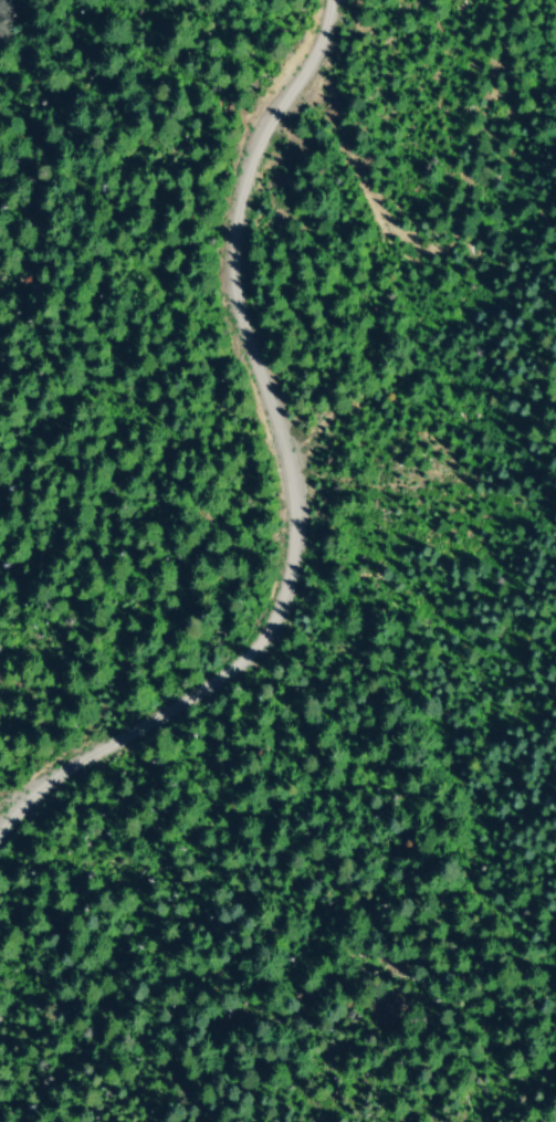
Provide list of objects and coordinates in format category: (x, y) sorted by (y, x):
road: (442, 248)
road: (283, 466)

